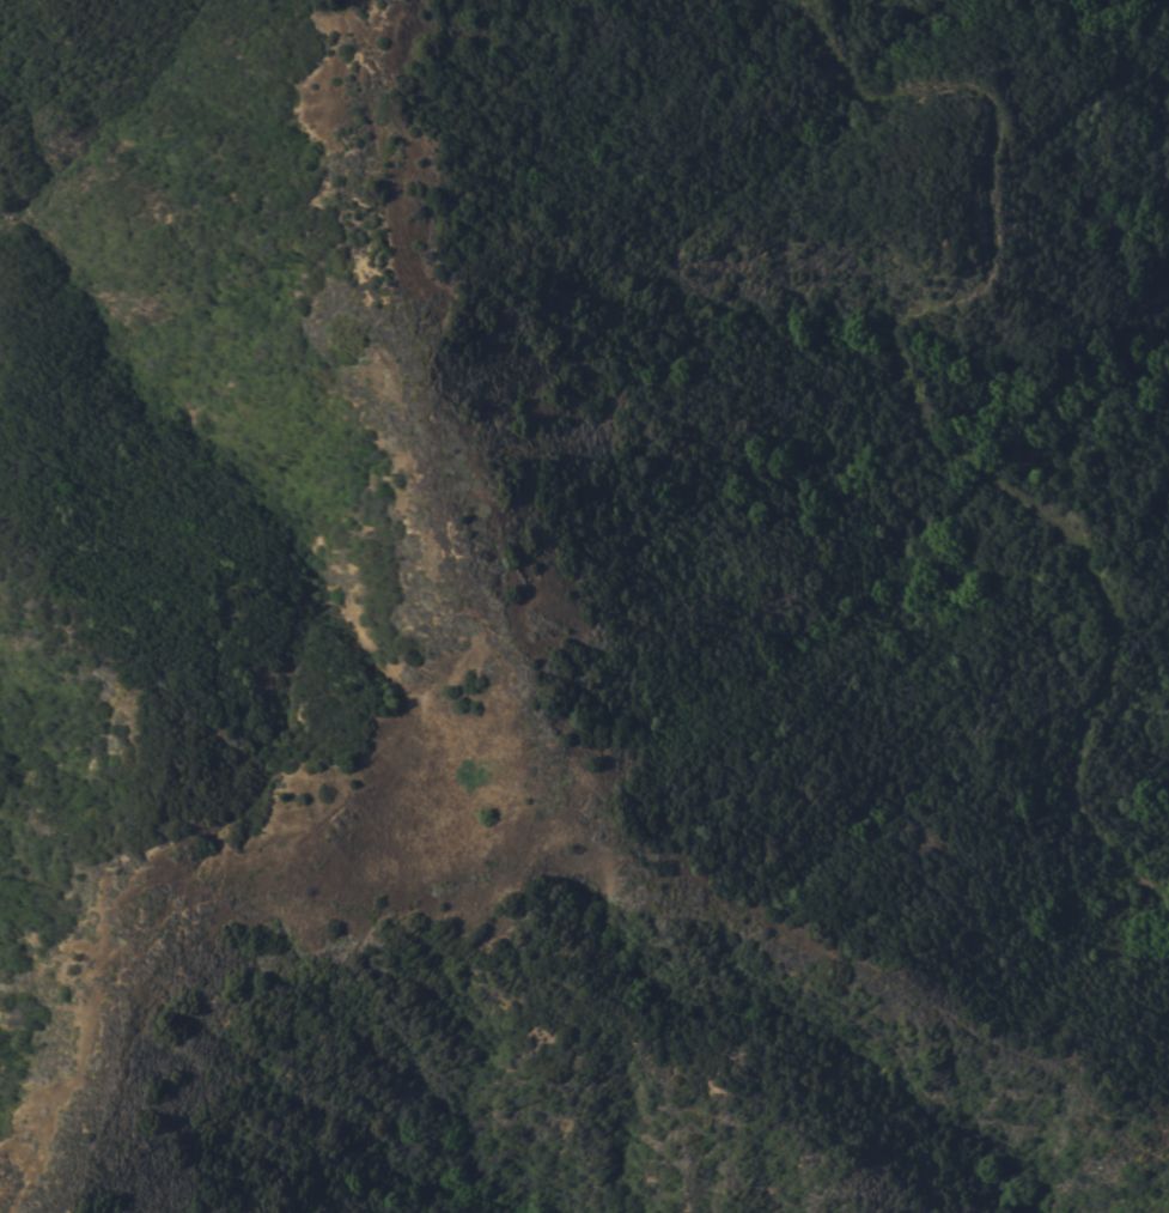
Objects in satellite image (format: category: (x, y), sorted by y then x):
road: (978, 255)
road: (1121, 797)

